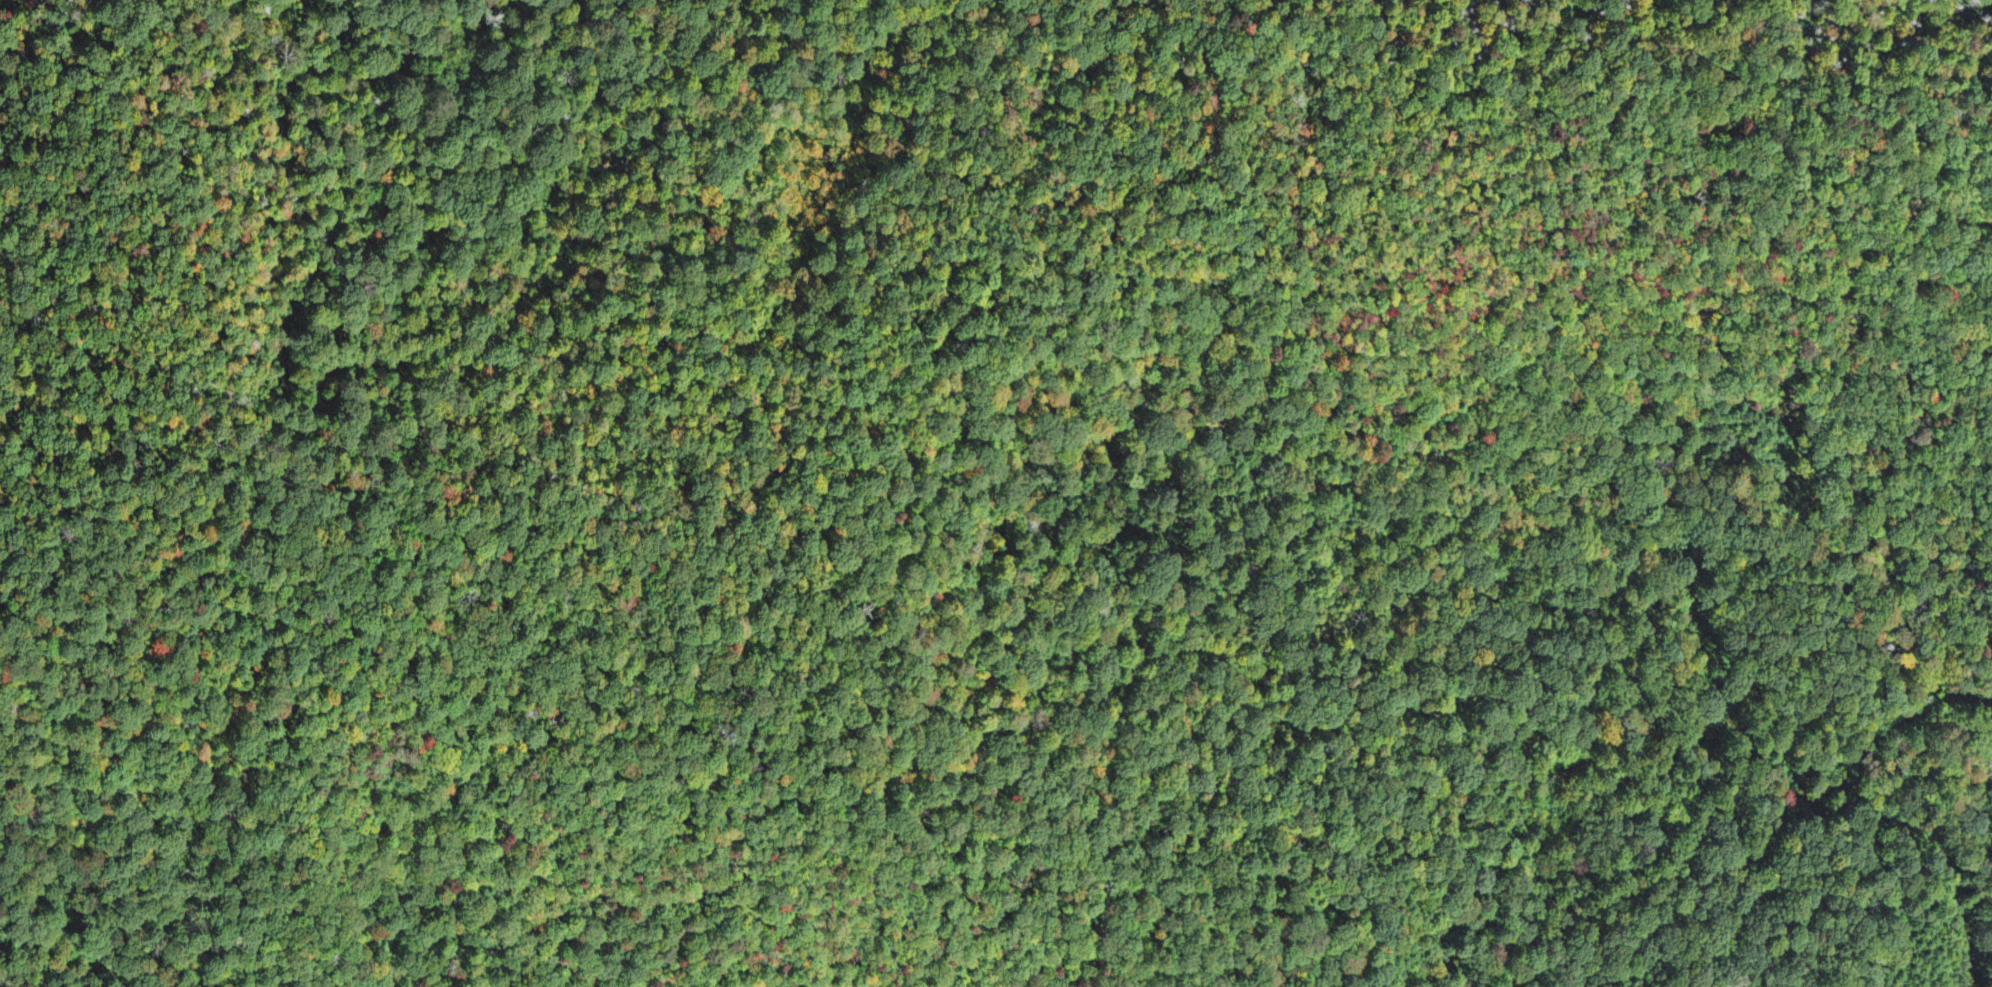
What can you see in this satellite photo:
road: (1868, 810)

